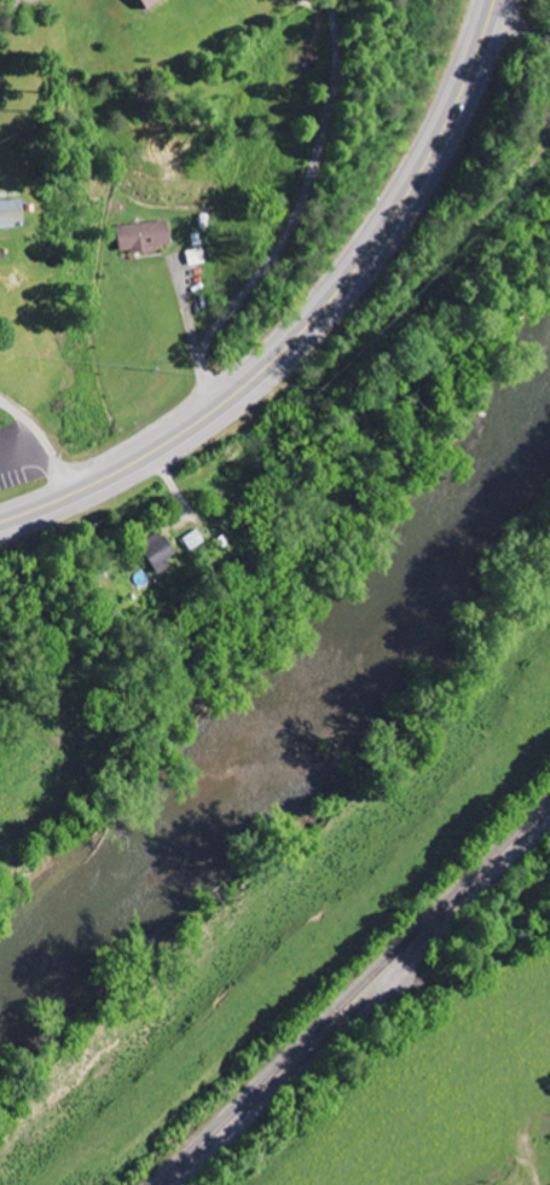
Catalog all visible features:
building: (143, 2)
road: (520, 39)
road: (421, 74)
building: (8, 213)
road: (295, 215)
building: (143, 236)
road: (548, 290)
road: (313, 322)
road: (42, 440)
building: (191, 539)
building: (155, 551)
river: (293, 703)
railway: (349, 989)
road: (366, 1011)

